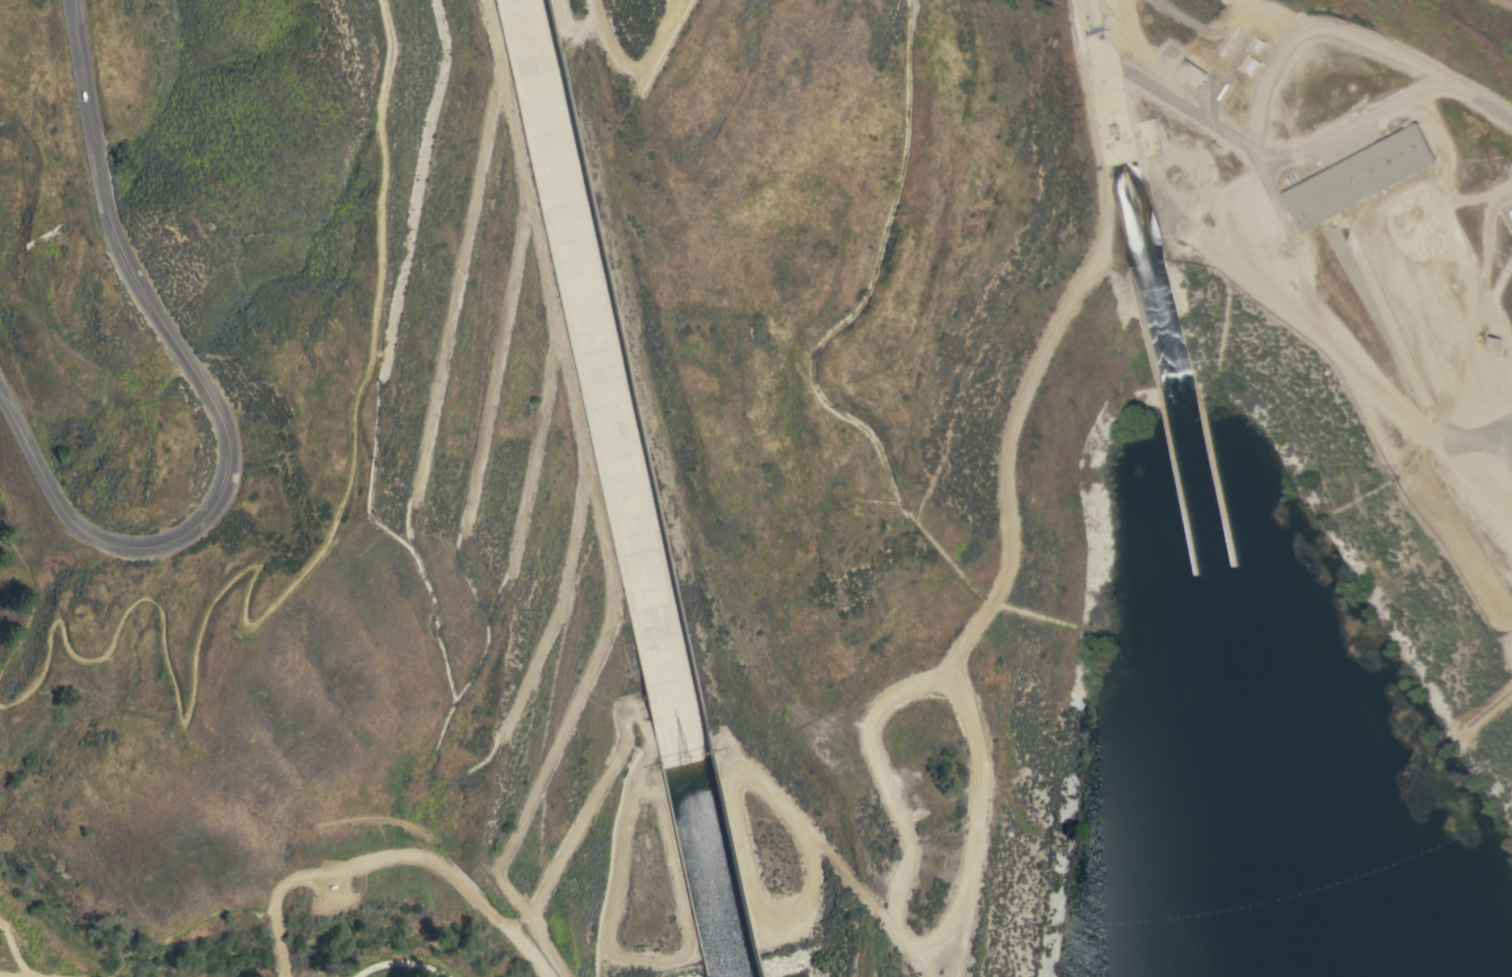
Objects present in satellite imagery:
building: (1193, 74)
building: (1111, 92)
building: (1360, 177)
building: (1494, 343)
road: (212, 398)
park: (214, 502)
road: (251, 626)
park: (1288, 845)
road: (397, 963)
road: (36, 973)

